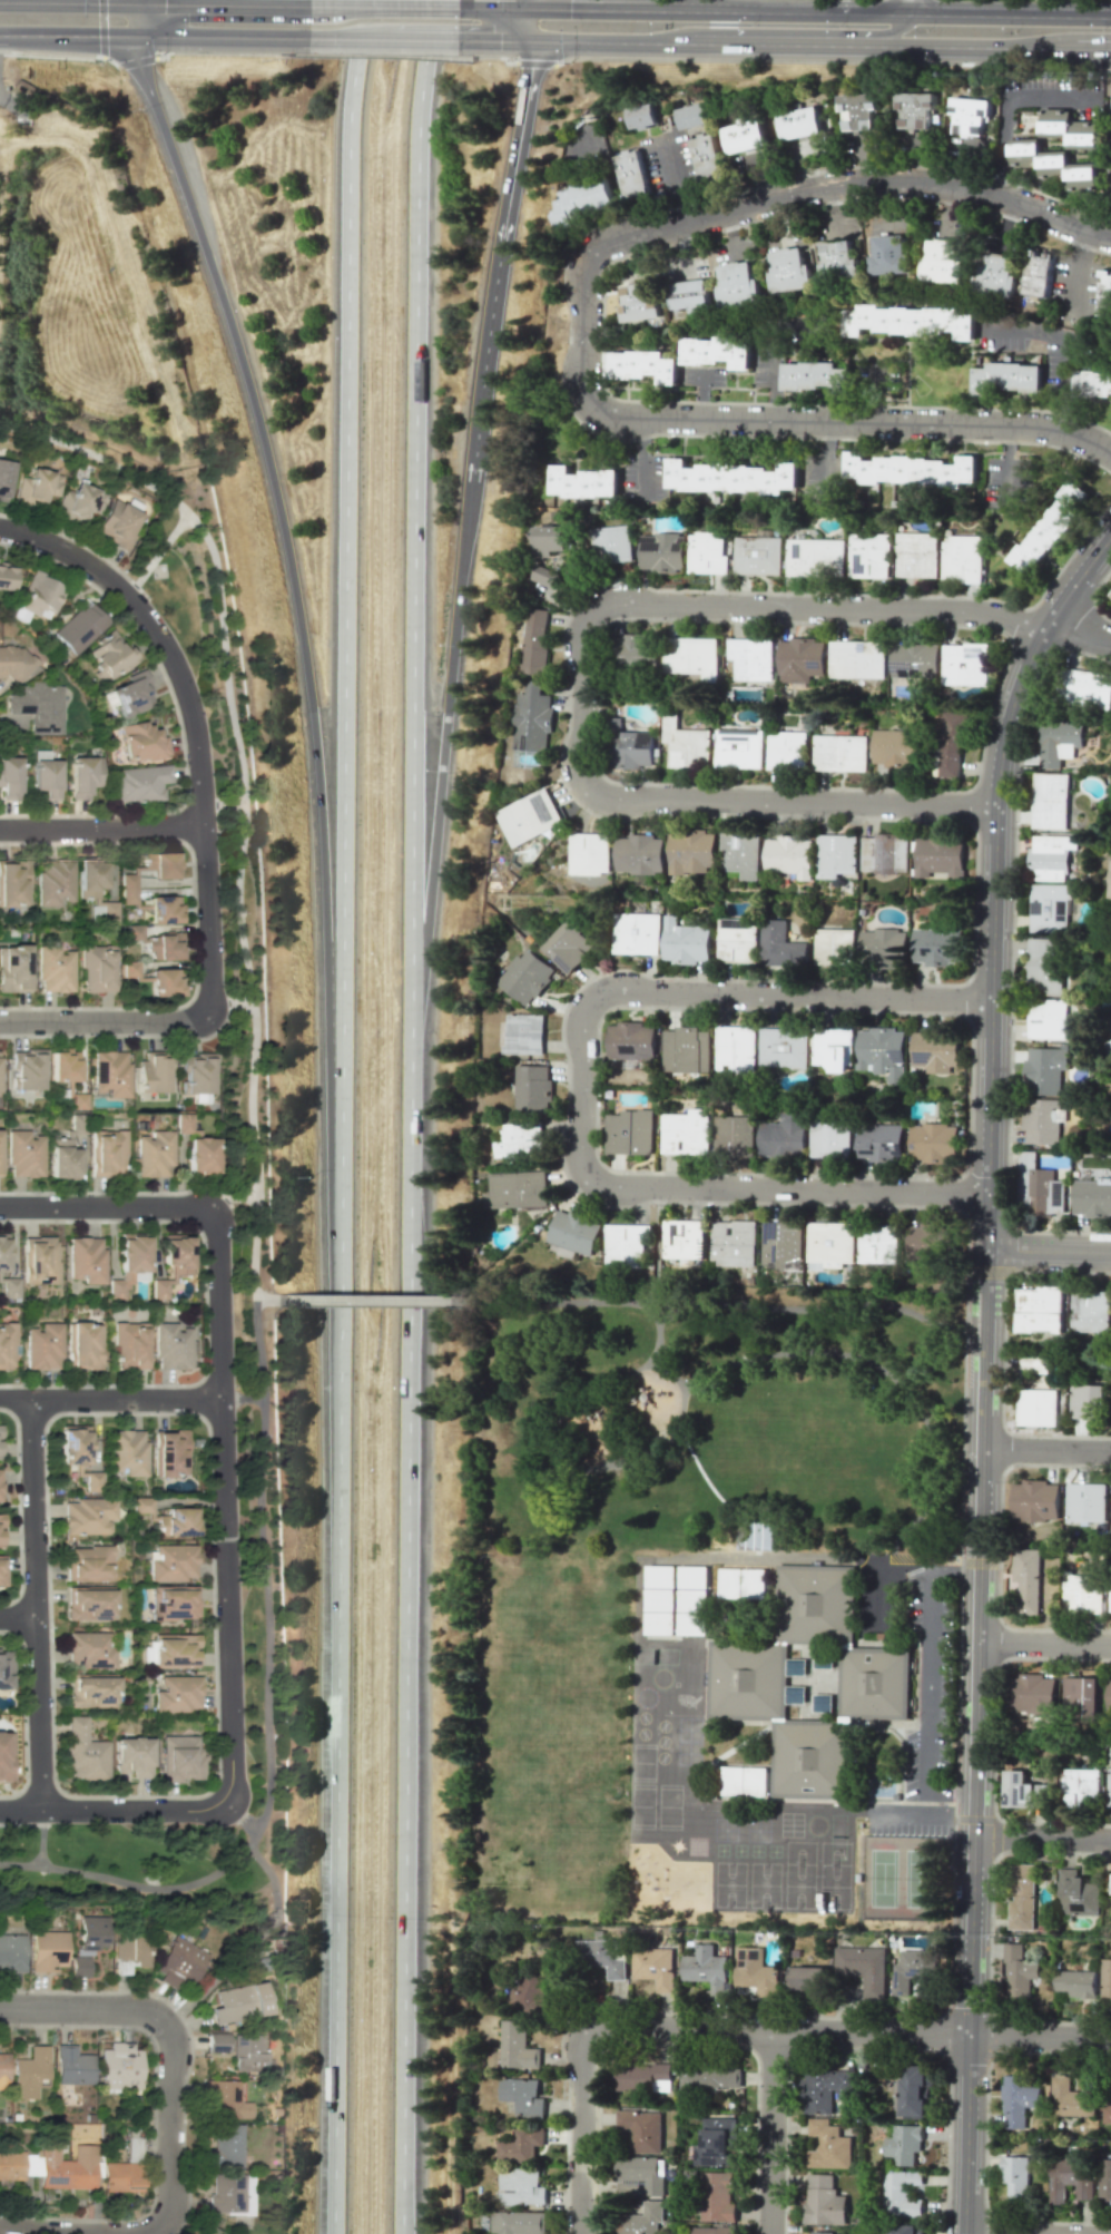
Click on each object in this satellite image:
road: (134, 1)
road: (67, 2)
traffic signals: (164, 3)
road: (220, 3)
road: (532, 3)
road: (383, 6)
road: (495, 7)
road: (885, 7)
road: (915, 7)
traffic signals: (570, 8)
road: (633, 9)
road: (807, 12)
road: (1083, 12)
road: (897, 13)
road: (1013, 16)
road: (134, 19)
road: (788, 30)
road: (67, 36)
traffic signals: (96, 36)
road: (222, 37)
road: (348, 38)
road: (422, 39)
road: (494, 39)
traffic signals: (494, 39)
road: (594, 41)
road: (866, 43)
road: (1092, 46)
road: (1092, 49)
traffic signals: (530, 69)
road: (1006, 107)
building: (915, 109)
building: (858, 110)
building: (694, 115)
building: (1026, 115)
building: (642, 116)
building: (970, 116)
road: (521, 123)
building: (800, 123)
building: (1054, 124)
building: (745, 136)
building: (1087, 136)
building: (1026, 145)
building: (1054, 156)
building: (708, 159)
building: (1085, 170)
building: (632, 174)
road: (674, 183)
building: (583, 200)
building: (891, 255)
building: (839, 261)
building: (944, 262)
building: (789, 270)
building: (1038, 271)
building: (995, 274)
road: (1075, 274)
building: (738, 284)
building: (690, 295)
building: (1105, 295)
building: (640, 301)
building: (911, 321)
road: (582, 329)
road: (486, 346)
road: (771, 347)
road: (1061, 349)
building: (717, 352)
building: (643, 365)
building: (816, 376)
building: (1009, 378)
building: (1093, 383)
road: (702, 394)
park: (82, 453)
road: (824, 458)
road: (641, 459)
road: (1007, 467)
building: (912, 470)
building: (729, 477)
building: (3, 478)
building: (582, 482)
building: (36, 487)
building: (77, 502)
road: (415, 504)
road: (344, 521)
building: (116, 523)
building: (1049, 528)
road: (281, 529)
building: (549, 539)
building: (610, 543)
building: (661, 552)
building: (707, 552)
road: (157, 553)
building: (758, 555)
building: (916, 555)
building: (869, 556)
building: (816, 557)
building: (961, 559)
building: (542, 576)
building: (6, 578)
building: (1110, 595)
building: (38, 598)
road: (1079, 625)
building: (78, 627)
building: (534, 637)
building: (637, 648)
building: (109, 656)
building: (690, 656)
building: (750, 658)
building: (800, 659)
building: (857, 659)
building: (915, 659)
building: (13, 663)
building: (965, 664)
road: (582, 679)
building: (1087, 688)
building: (131, 694)
building: (37, 706)
building: (531, 719)
road: (194, 722)
road: (444, 733)
building: (141, 742)
building: (952, 742)
building: (1059, 742)
building: (630, 747)
building: (688, 748)
building: (738, 748)
building: (895, 748)
building: (787, 749)
building: (840, 753)
building: (83, 775)
building: (9, 777)
building: (45, 777)
building: (140, 783)
road: (243, 797)
building: (1050, 801)
road: (223, 804)
building: (529, 816)
road: (101, 825)
building: (690, 852)
building: (588, 853)
building: (885, 853)
building: (638, 854)
building: (740, 854)
building: (788, 855)
building: (836, 855)
building: (940, 855)
building: (1051, 858)
building: (160, 864)
road: (993, 875)
building: (53, 882)
building: (13, 883)
building: (1110, 884)
building: (94, 888)
building: (127, 889)
building: (1049, 908)
building: (164, 909)
building: (636, 933)
building: (737, 941)
building: (685, 942)
building: (569, 945)
building: (781, 945)
building: (165, 947)
building: (834, 947)
building: (937, 947)
building: (882, 948)
building: (1046, 967)
building: (14, 968)
building: (97, 968)
building: (53, 969)
building: (129, 969)
building: (524, 976)
building: (166, 982)
road: (230, 1003)
building: (1048, 1019)
road: (104, 1020)
building: (1110, 1020)
building: (523, 1033)
building: (630, 1040)
building: (1109, 1046)
building: (784, 1047)
building: (735, 1048)
building: (935, 1049)
building: (686, 1050)
building: (883, 1052)
building: (837, 1059)
building: (63, 1065)
building: (26, 1069)
building: (1044, 1069)
building: (110, 1072)
building: (153, 1072)
building: (197, 1072)
building: (531, 1089)
road: (581, 1089)
building: (1043, 1120)
building: (629, 1131)
building: (705, 1133)
building: (783, 1137)
building: (829, 1140)
building: (519, 1142)
building: (879, 1142)
building: (933, 1143)
building: (107, 1153)
building: (24, 1154)
building: (155, 1154)
building: (201, 1155)
building: (0, 1156)
building: (62, 1159)
street lamp: (309, 1179)
building: (1040, 1187)
building: (515, 1189)
building: (1092, 1198)
road: (234, 1202)
road: (106, 1206)
building: (573, 1232)
park: (248, 1234)
building: (681, 1240)
building: (924, 1240)
building: (780, 1243)
building: (625, 1244)
building: (733, 1244)
building: (829, 1244)
building: (877, 1244)
road: (657, 1247)
road: (1049, 1250)
building: (3, 1254)
building: (39, 1260)
building: (86, 1260)
building: (173, 1263)
building: (130, 1264)
building: (0, 1277)
building: (10, 1287)
road: (985, 1292)
road: (266, 1299)
road: (368, 1300)
road: (725, 1302)
building: (1039, 1310)
building: (1090, 1312)
building: (6, 1344)
building: (82, 1344)
building: (129, 1344)
building: (42, 1345)
building: (171, 1346)
road: (845, 1354)
road: (983, 1392)
road: (16, 1397)
road: (126, 1398)
road: (242, 1399)
building: (1088, 1401)
building: (1036, 1408)
road: (1046, 1449)
building: (128, 1452)
building: (171, 1452)
building: (78, 1453)
road: (958, 1457)
road: (561, 1459)
road: (702, 1476)
street lamp: (1003, 1480)
building: (0, 1483)
building: (1034, 1500)
building: (1085, 1502)
road: (980, 1505)
road: (224, 1506)
building: (89, 1515)
building: (168, 1517)
park: (660, 1519)
building: (1, 1529)
building: (755, 1531)
road: (999, 1548)
road: (724, 1559)
road: (920, 1559)
building: (171, 1561)
road: (980, 1561)
building: (89, 1562)
road: (979, 1565)
building: (1, 1571)
building: (660, 1576)
building: (694, 1576)
building: (1028, 1578)
building: (730, 1583)
building: (754, 1583)
building: (1082, 1593)
building: (1110, 1593)
building: (661, 1599)
building: (692, 1599)
road: (958, 1600)
building: (174, 1601)
road: (37, 1603)
building: (88, 1603)
road: (19, 1617)
road: (407, 1621)
building: (660, 1623)
building: (692, 1623)
road: (336, 1638)
road: (1043, 1644)
building: (92, 1649)
building: (175, 1649)
street lamp: (1059, 1663)
building: (4, 1669)
parking lot: (942, 1676)
road: (928, 1678)
road: (976, 1679)
building: (747, 1683)
parking lot: (928, 1684)
building: (92, 1689)
building: (178, 1694)
building: (1033, 1694)
building: (1109, 1695)
building: (1081, 1696)
road: (265, 1705)
building: (86, 1753)
building: (4, 1755)
building: (134, 1755)
building: (183, 1757)
building: (734, 1781)
building: (757, 1781)
building: (1109, 1786)
building: (1080, 1787)
building: (1023, 1791)
road: (115, 1810)
road: (974, 1813)
road: (242, 1816)
road: (974, 1819)
road: (41, 1836)
street lamp: (950, 1836)
road: (995, 1836)
road: (1041, 1836)
park: (899, 1878)
building: (1110, 1885)
building: (1078, 1894)
building: (1022, 1898)
building: (90, 1932)
road: (247, 1943)
building: (128, 1949)
building: (47, 1950)
building: (11, 1952)
building: (601, 1957)
building: (179, 1963)
building: (79, 1966)
building: (653, 1967)
building: (706, 1968)
building: (863, 1968)
building: (913, 1969)
building: (756, 1971)
building: (1020, 1971)
building: (806, 1980)
building: (1107, 1980)
building: (1078, 1982)
building: (529, 1991)
building: (239, 2002)
road: (851, 2032)
road: (970, 2035)
street lamp: (146, 2036)
building: (218, 2041)
building: (515, 2046)
building: (248, 2055)
road: (169, 2059)
building: (72, 2066)
building: (118, 2066)
building: (3, 2069)
building: (29, 2071)
building: (640, 2076)
building: (708, 2078)
building: (825, 2088)
building: (916, 2090)
building: (522, 2098)
building: (1071, 2099)
building: (224, 2100)
building: (1020, 2100)
building: (1107, 2113)
building: (640, 2130)
road: (582, 2132)
road: (770, 2133)
building: (716, 2142)
building: (904, 2144)
building: (519, 2145)
building: (828, 2145)
building: (225, 2147)
building: (11, 2164)
building: (66, 2165)
building: (1015, 2174)
building: (121, 2176)
building: (638, 2176)
building: (1070, 2176)
building: (1105, 2179)
building: (521, 2186)
building: (232, 2194)
building: (903, 2194)
building: (715, 2197)
building: (823, 2202)
building: (639, 2220)
building: (517, 2223)
road: (43, 2227)
building: (907, 2228)
building: (709, 2230)
building: (822, 2232)
road: (984, 2233)

